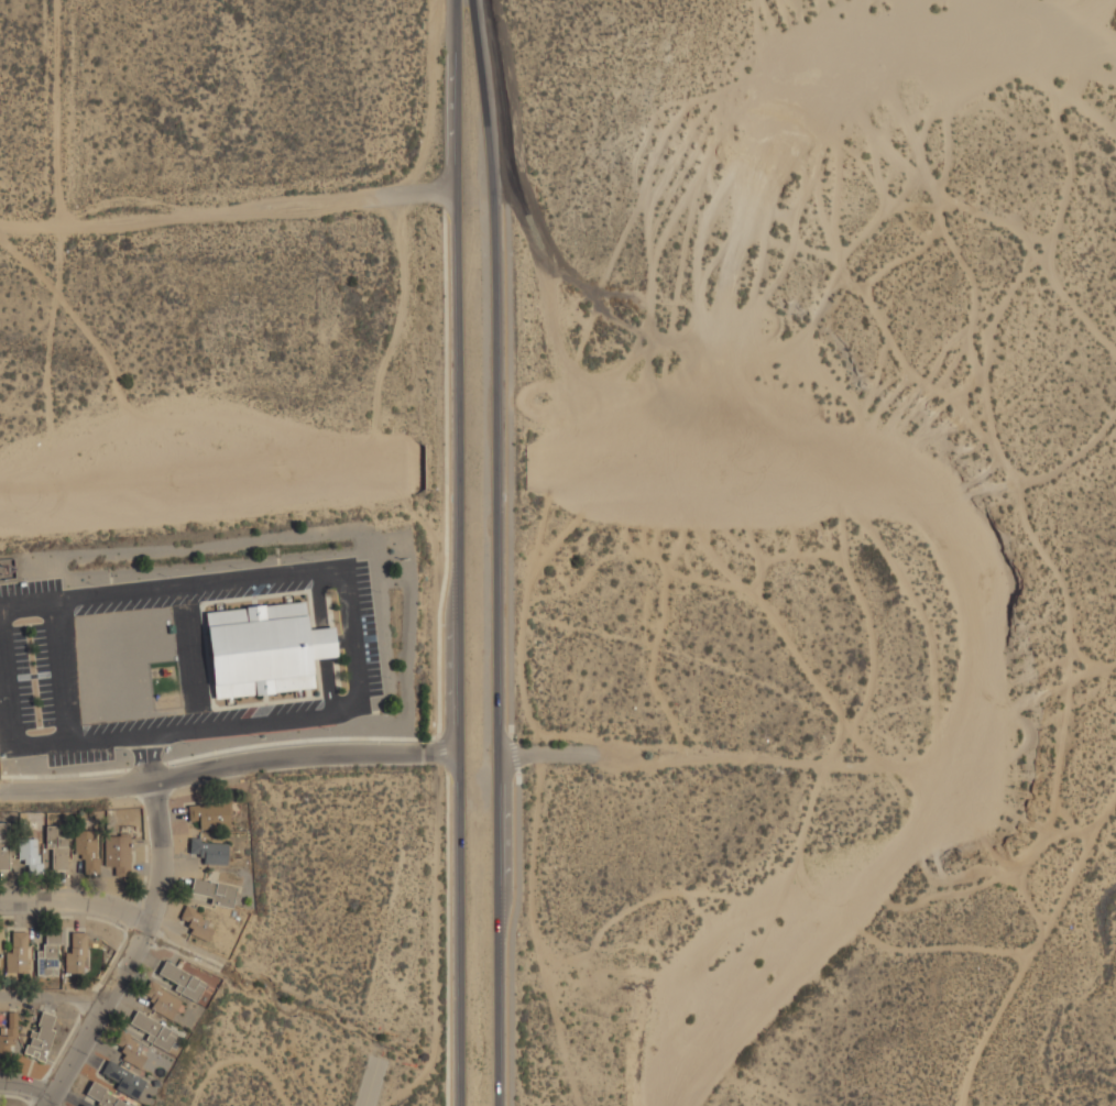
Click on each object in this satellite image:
river: (472, 469)
river: (208, 483)
road: (497, 551)
road: (458, 552)
road: (439, 610)
building: (264, 649)
river: (983, 656)
road: (442, 753)
road: (513, 753)
road: (305, 754)
road: (548, 755)
road: (149, 757)
road: (146, 767)
road: (64, 775)
road: (77, 780)
building: (209, 814)
building: (56, 846)
building: (87, 850)
building: (209, 851)
building: (118, 852)
building: (30, 853)
building: (4, 856)
building: (214, 891)
road: (75, 902)
building: (196, 923)
road: (447, 938)
road: (133, 950)
building: (17, 952)
building: (75, 952)
building: (47, 955)
building: (179, 979)
building: (206, 979)
road: (55, 998)
building: (169, 1005)
building: (151, 1030)
building: (41, 1036)
building: (6, 1045)
building: (142, 1055)
building: (122, 1078)
road: (368, 1083)
road: (24, 1095)
building: (105, 1096)

